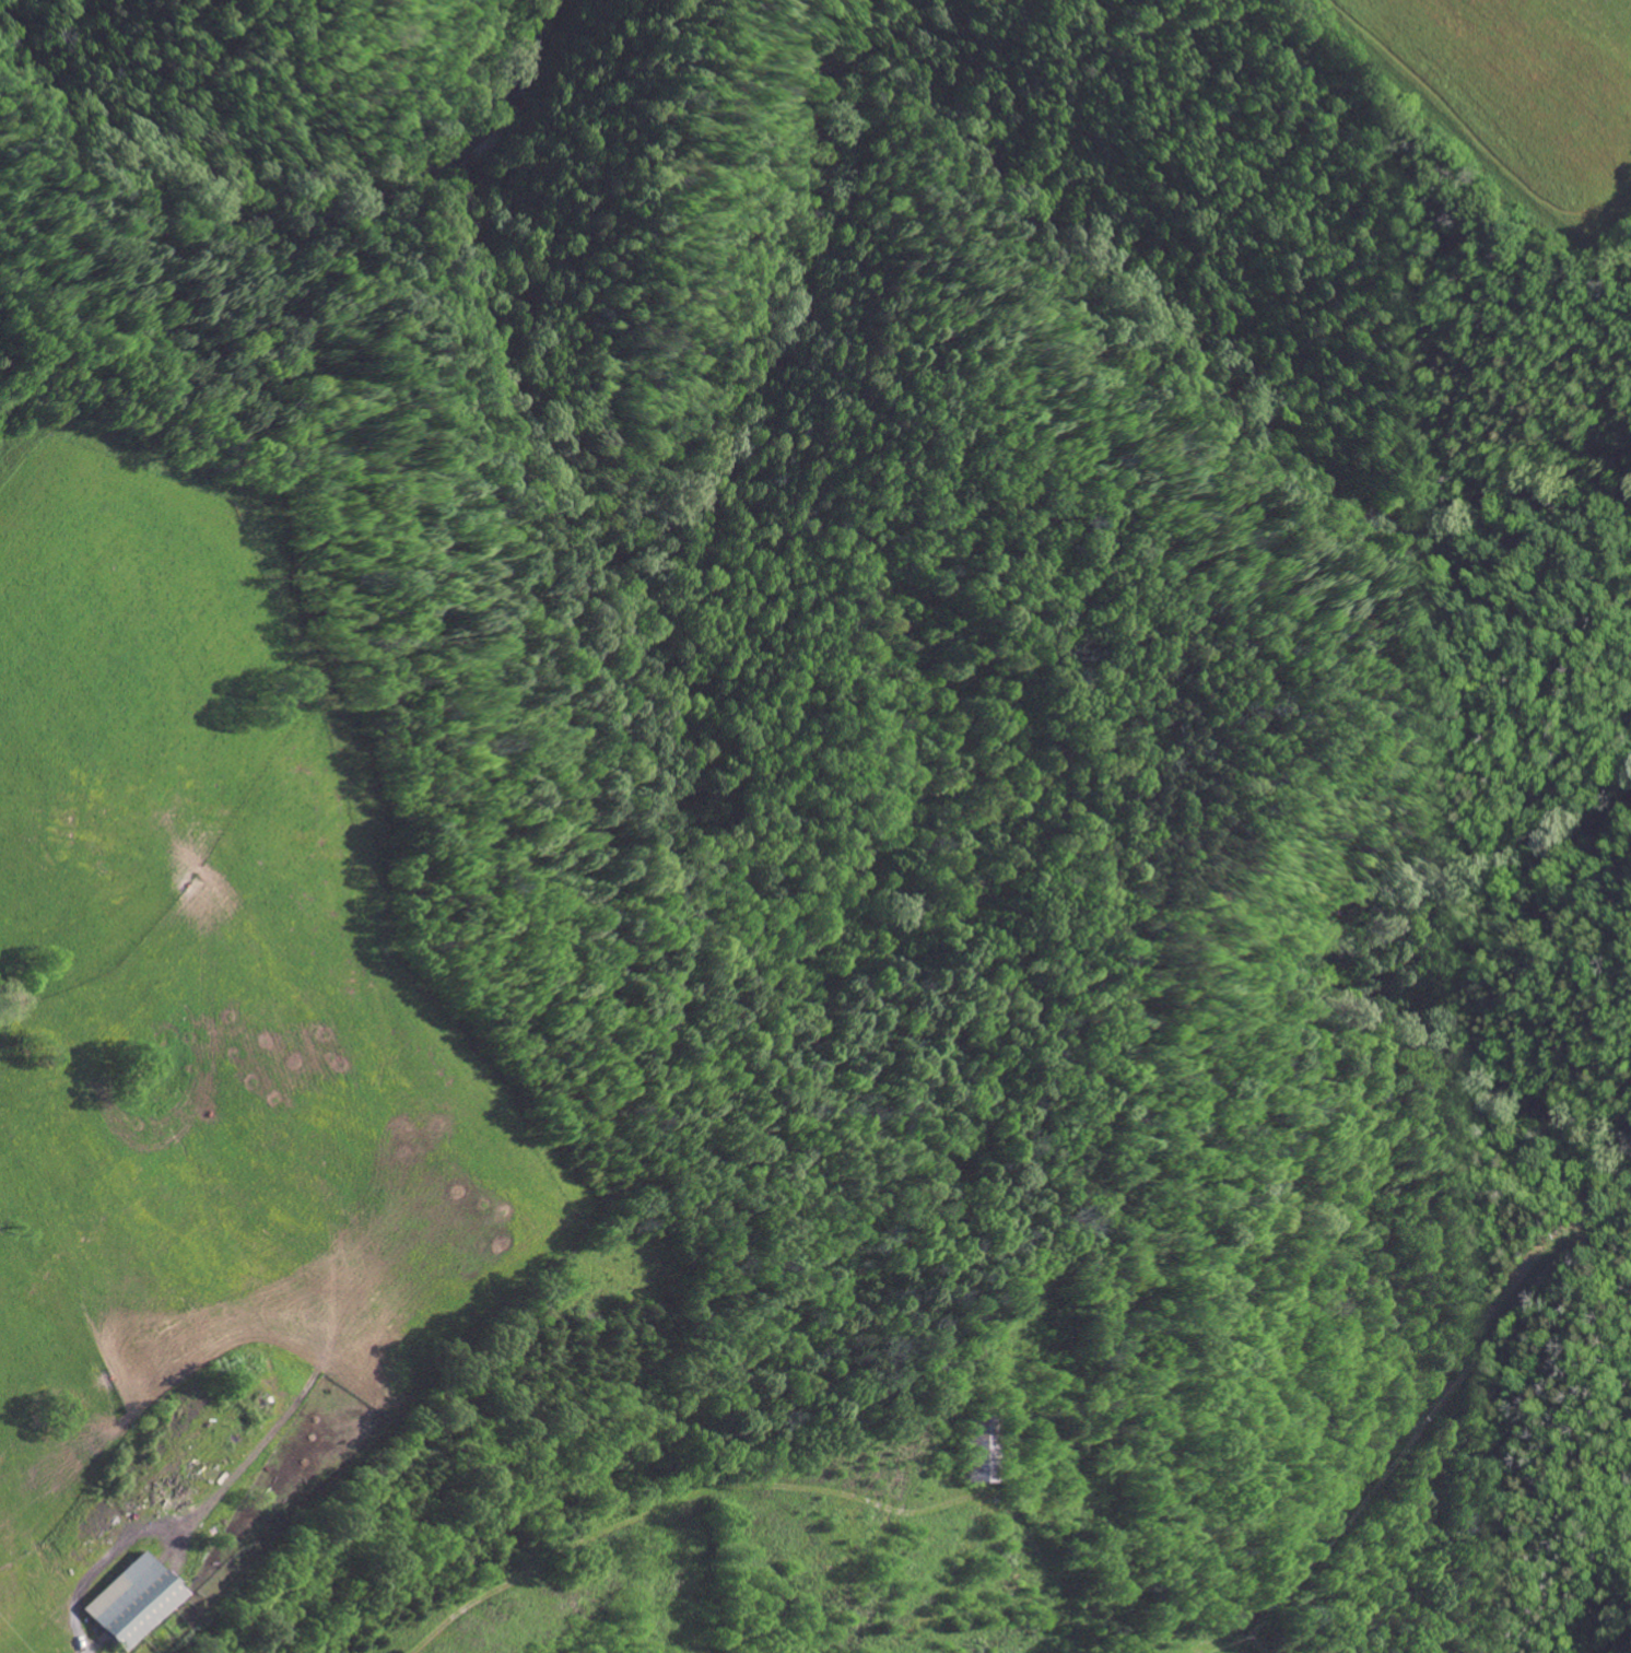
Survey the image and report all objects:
road: (1551, 1440)
road: (778, 1485)
building: (128, 1602)
road: (77, 1646)
road: (1218, 1646)

